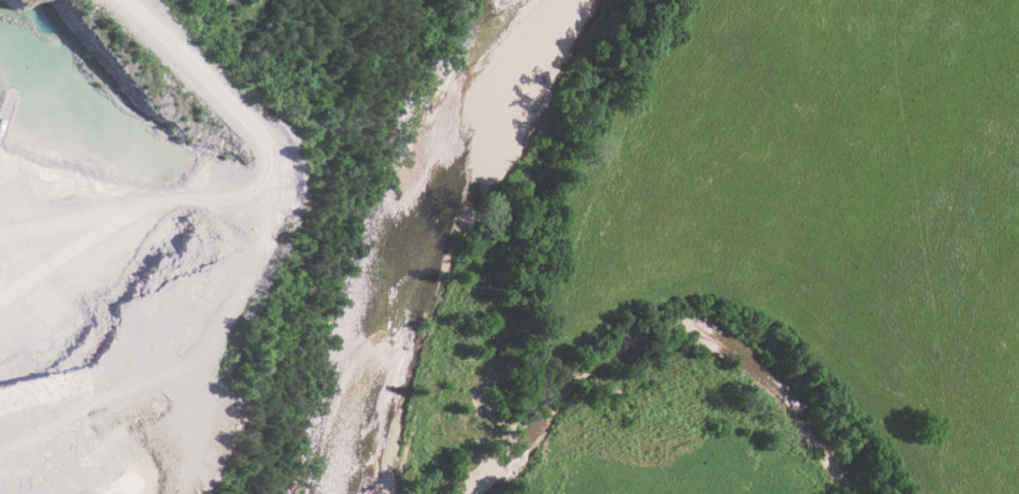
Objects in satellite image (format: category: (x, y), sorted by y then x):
road: (256, 137)
quarry: (133, 240)
river: (424, 249)

